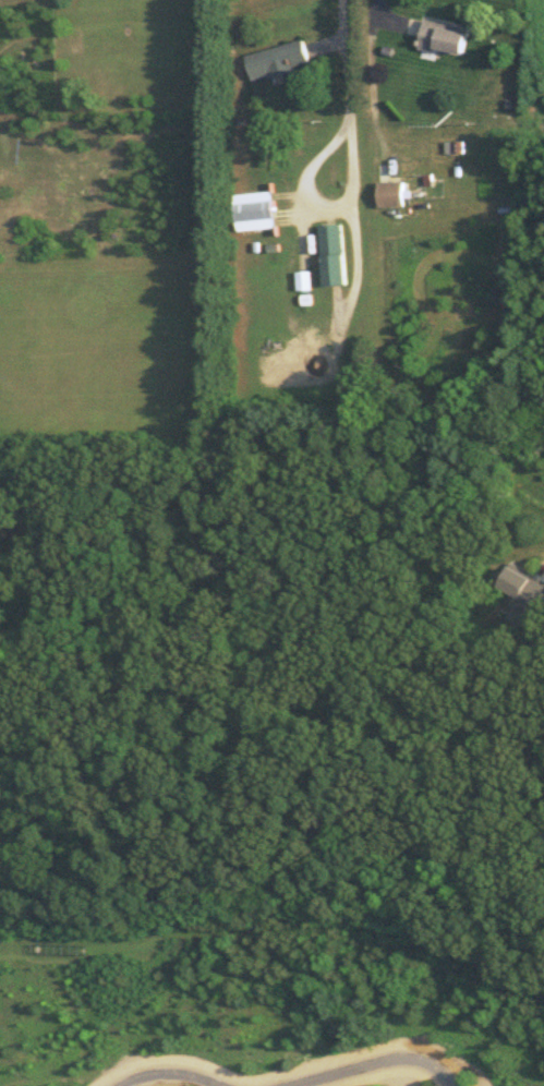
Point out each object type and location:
building: (443, 34)
building: (277, 58)
road: (371, 68)
road: (346, 86)
building: (391, 191)
building: (254, 208)
building: (331, 252)
building: (302, 278)
building: (524, 592)
road: (372, 1062)
road: (167, 1069)

